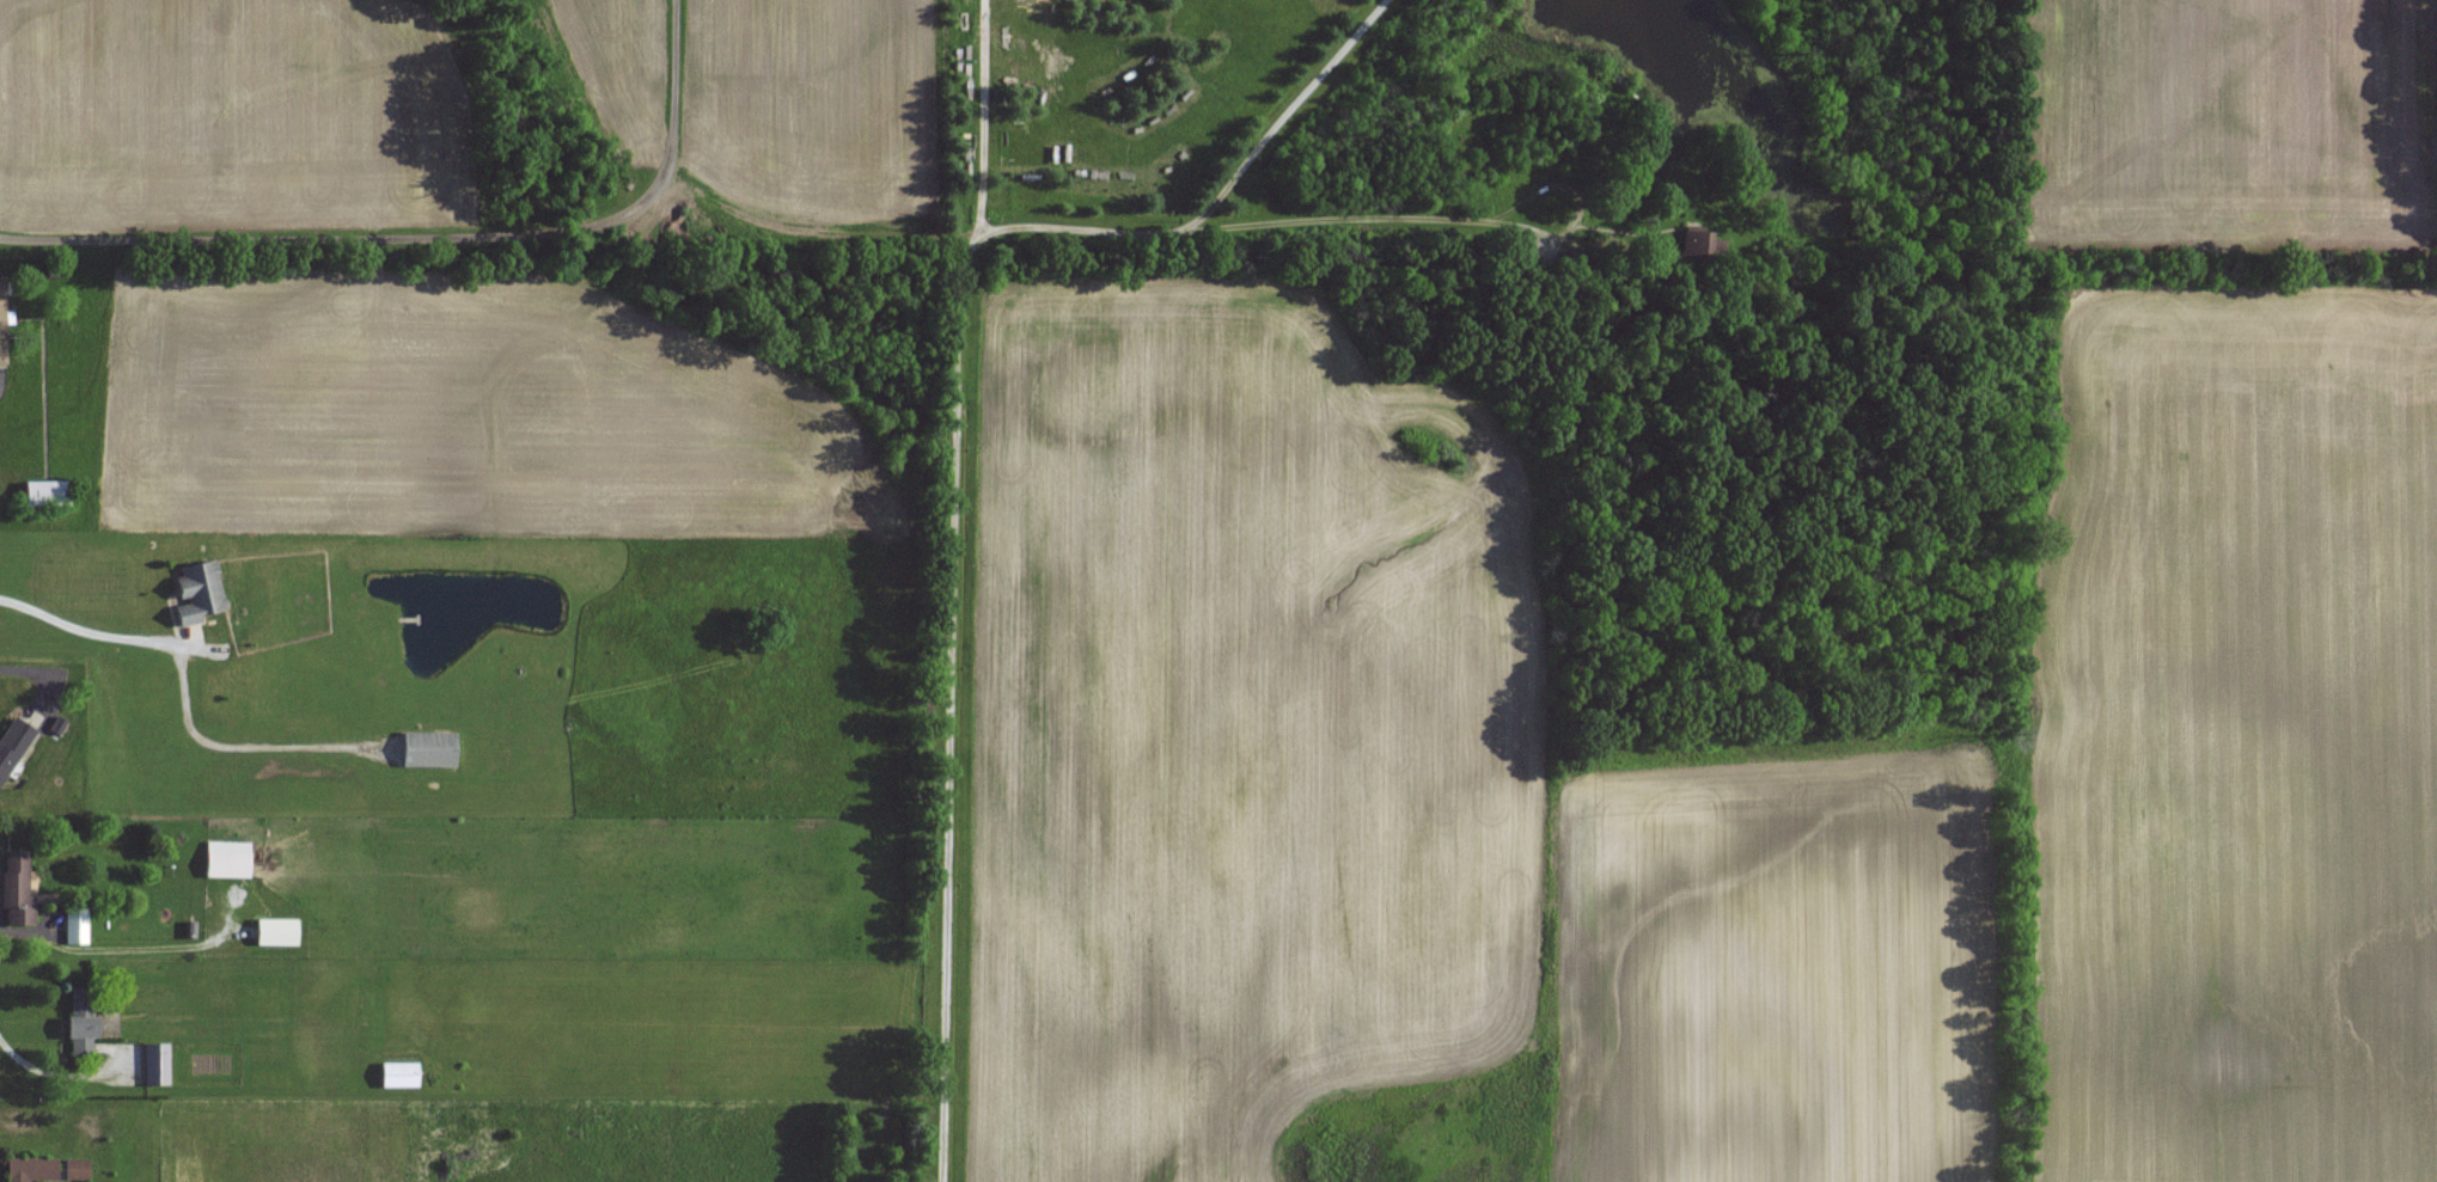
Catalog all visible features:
road: (1281, 121)
road: (989, 127)
road: (1439, 216)
road: (428, 240)
building: (1, 320)
building: (47, 491)
building: (198, 589)
road: (952, 614)
road: (35, 673)
road: (191, 688)
building: (13, 745)
building: (429, 748)
building: (227, 858)
building: (18, 887)
building: (72, 925)
building: (83, 1022)
building: (151, 1062)
road: (44, 1070)
building: (399, 1073)
building: (31, 1168)
building: (75, 1168)

